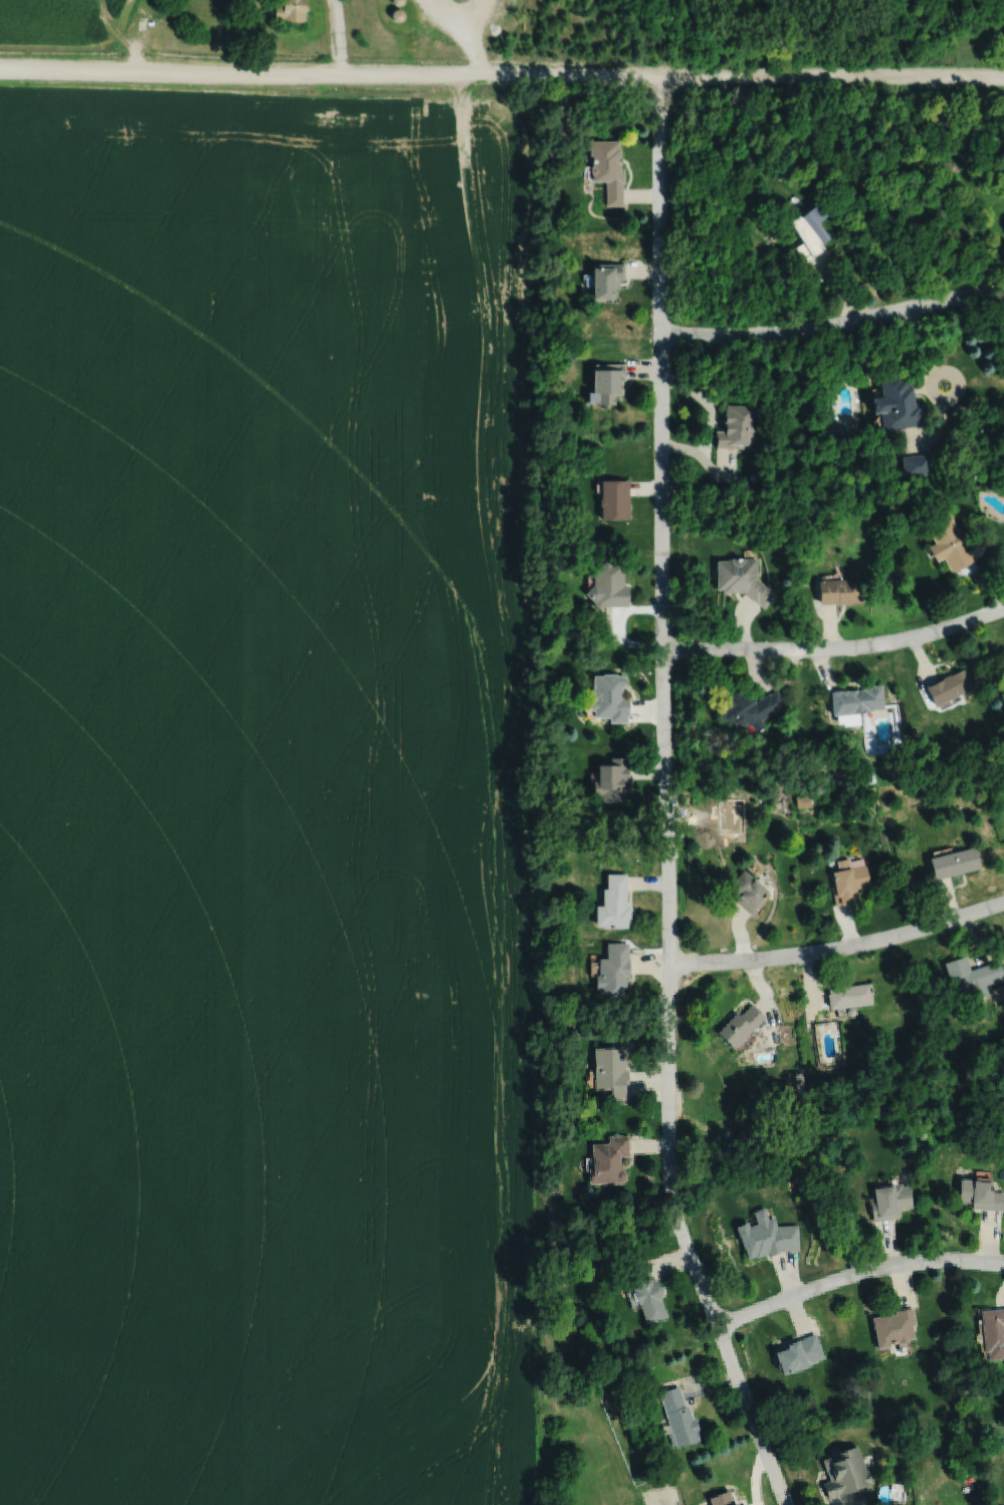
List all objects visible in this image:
building: (289, 10)
road: (337, 37)
road: (502, 73)
building: (559, 119)
building: (587, 157)
building: (607, 169)
building: (807, 230)
building: (606, 278)
road: (834, 324)
building: (607, 380)
building: (896, 405)
building: (737, 427)
building: (914, 464)
building: (614, 498)
building: (947, 543)
building: (738, 576)
building: (608, 585)
building: (838, 590)
road: (835, 647)
building: (949, 685)
building: (609, 697)
building: (854, 703)
building: (748, 708)
building: (611, 780)
road: (665, 801)
building: (715, 801)
building: (952, 862)
building: (846, 881)
building: (746, 890)
building: (570, 898)
building: (613, 904)
road: (839, 946)
building: (613, 971)
building: (974, 975)
building: (850, 993)
building: (852, 1010)
building: (741, 1024)
building: (613, 1068)
building: (801, 1080)
building: (839, 1153)
building: (609, 1159)
building: (982, 1194)
building: (891, 1201)
building: (848, 1213)
building: (769, 1235)
road: (857, 1273)
building: (647, 1291)
building: (896, 1327)
building: (994, 1332)
building: (800, 1353)
building: (608, 1397)
building: (614, 1410)
building: (680, 1417)
building: (847, 1472)
building: (723, 1499)
building: (744, 1504)

